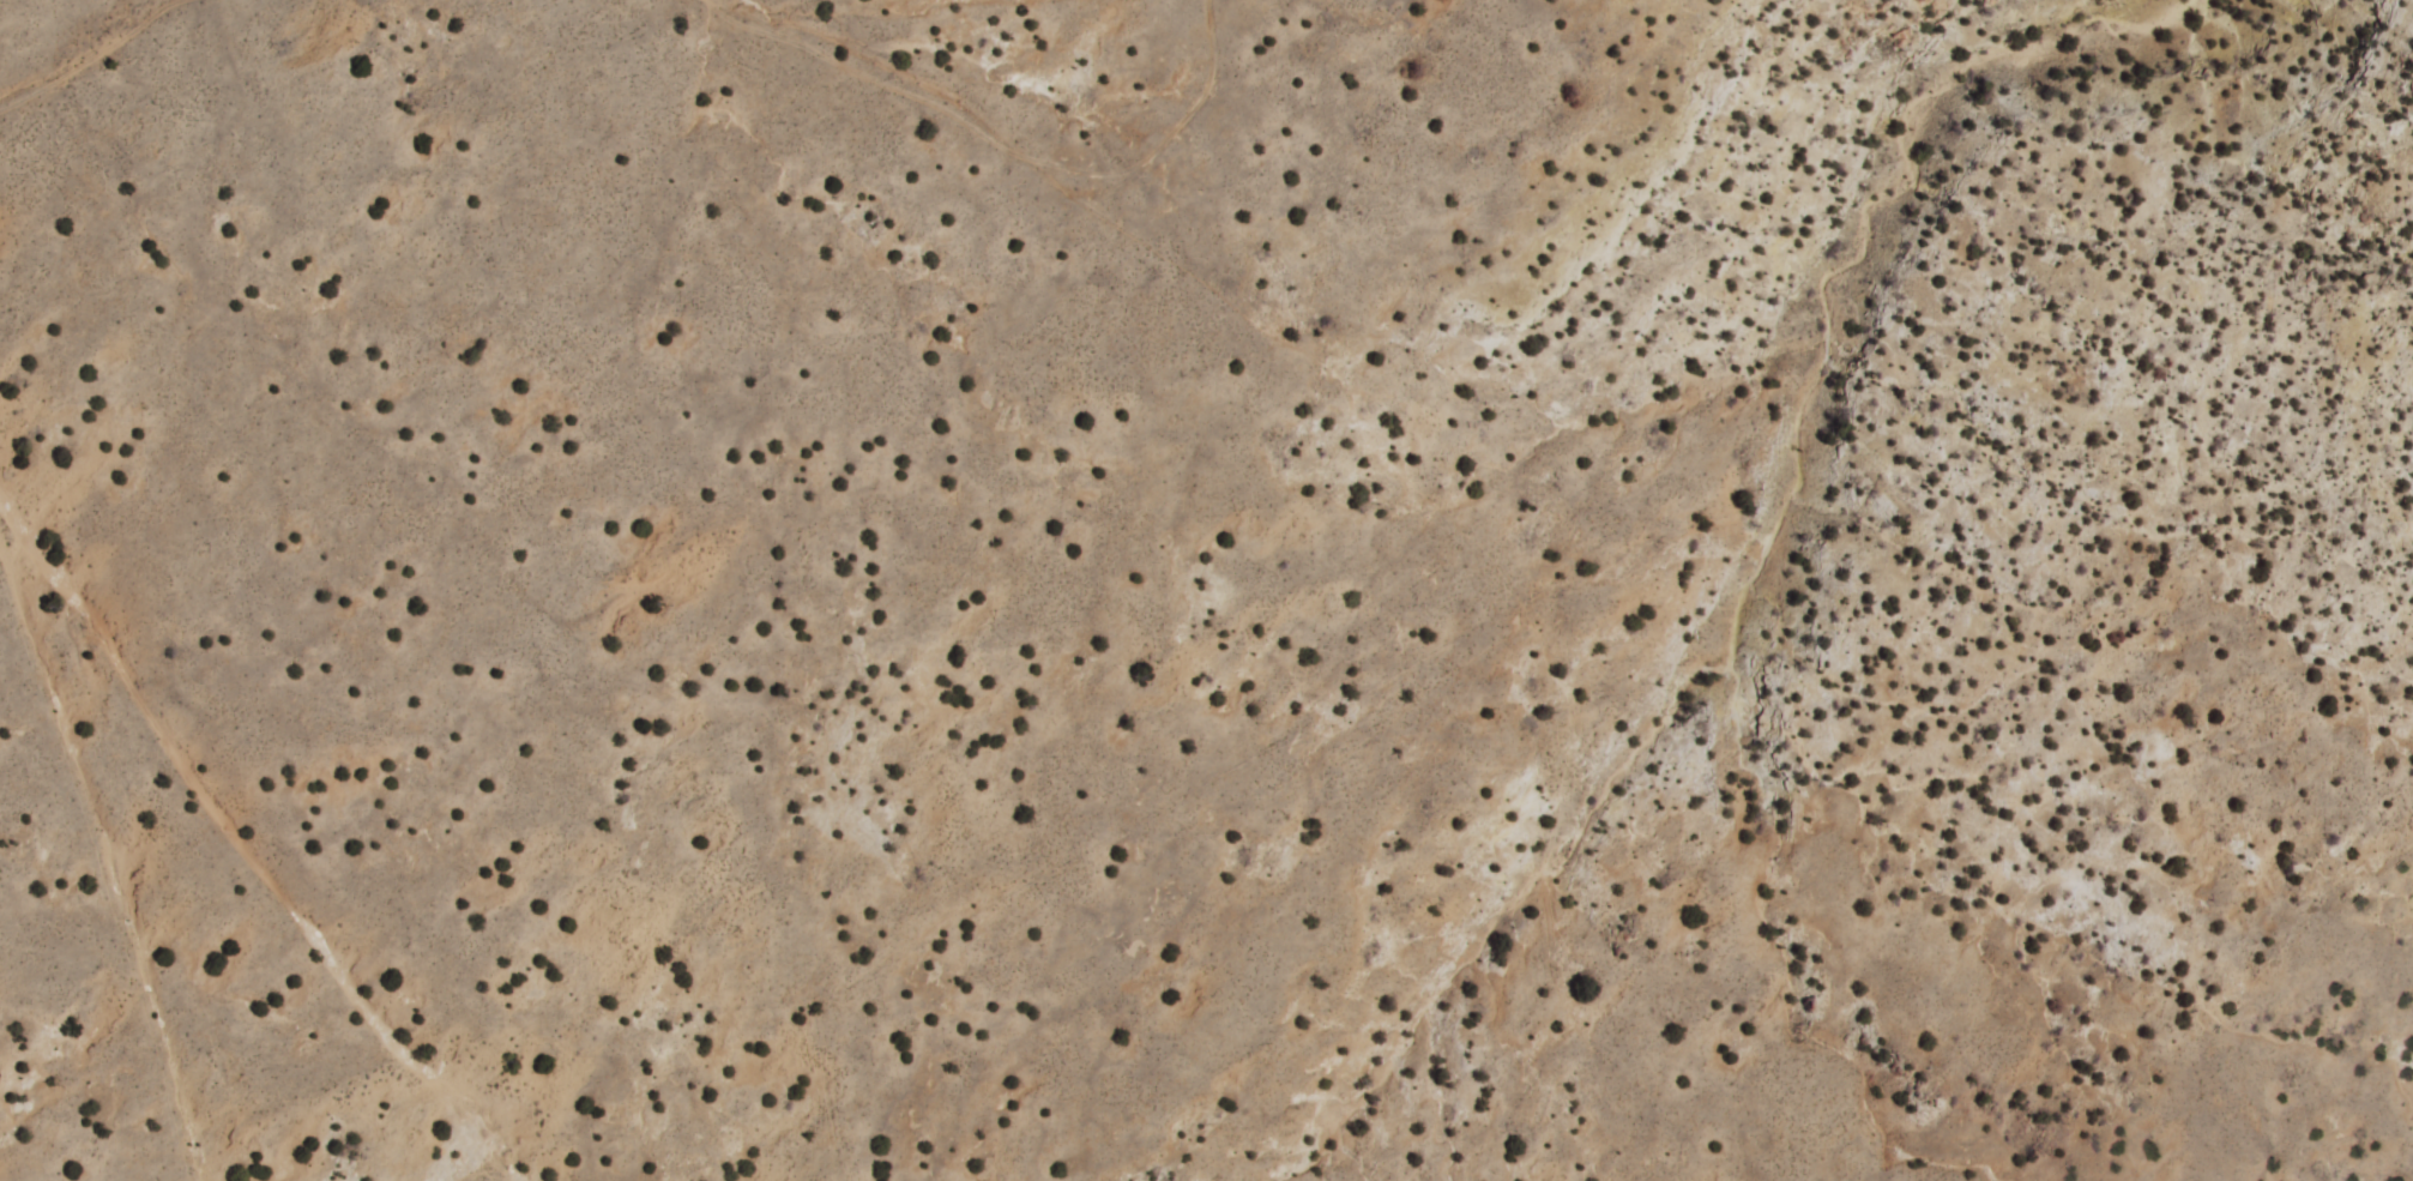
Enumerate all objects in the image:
road: (134, 805)

